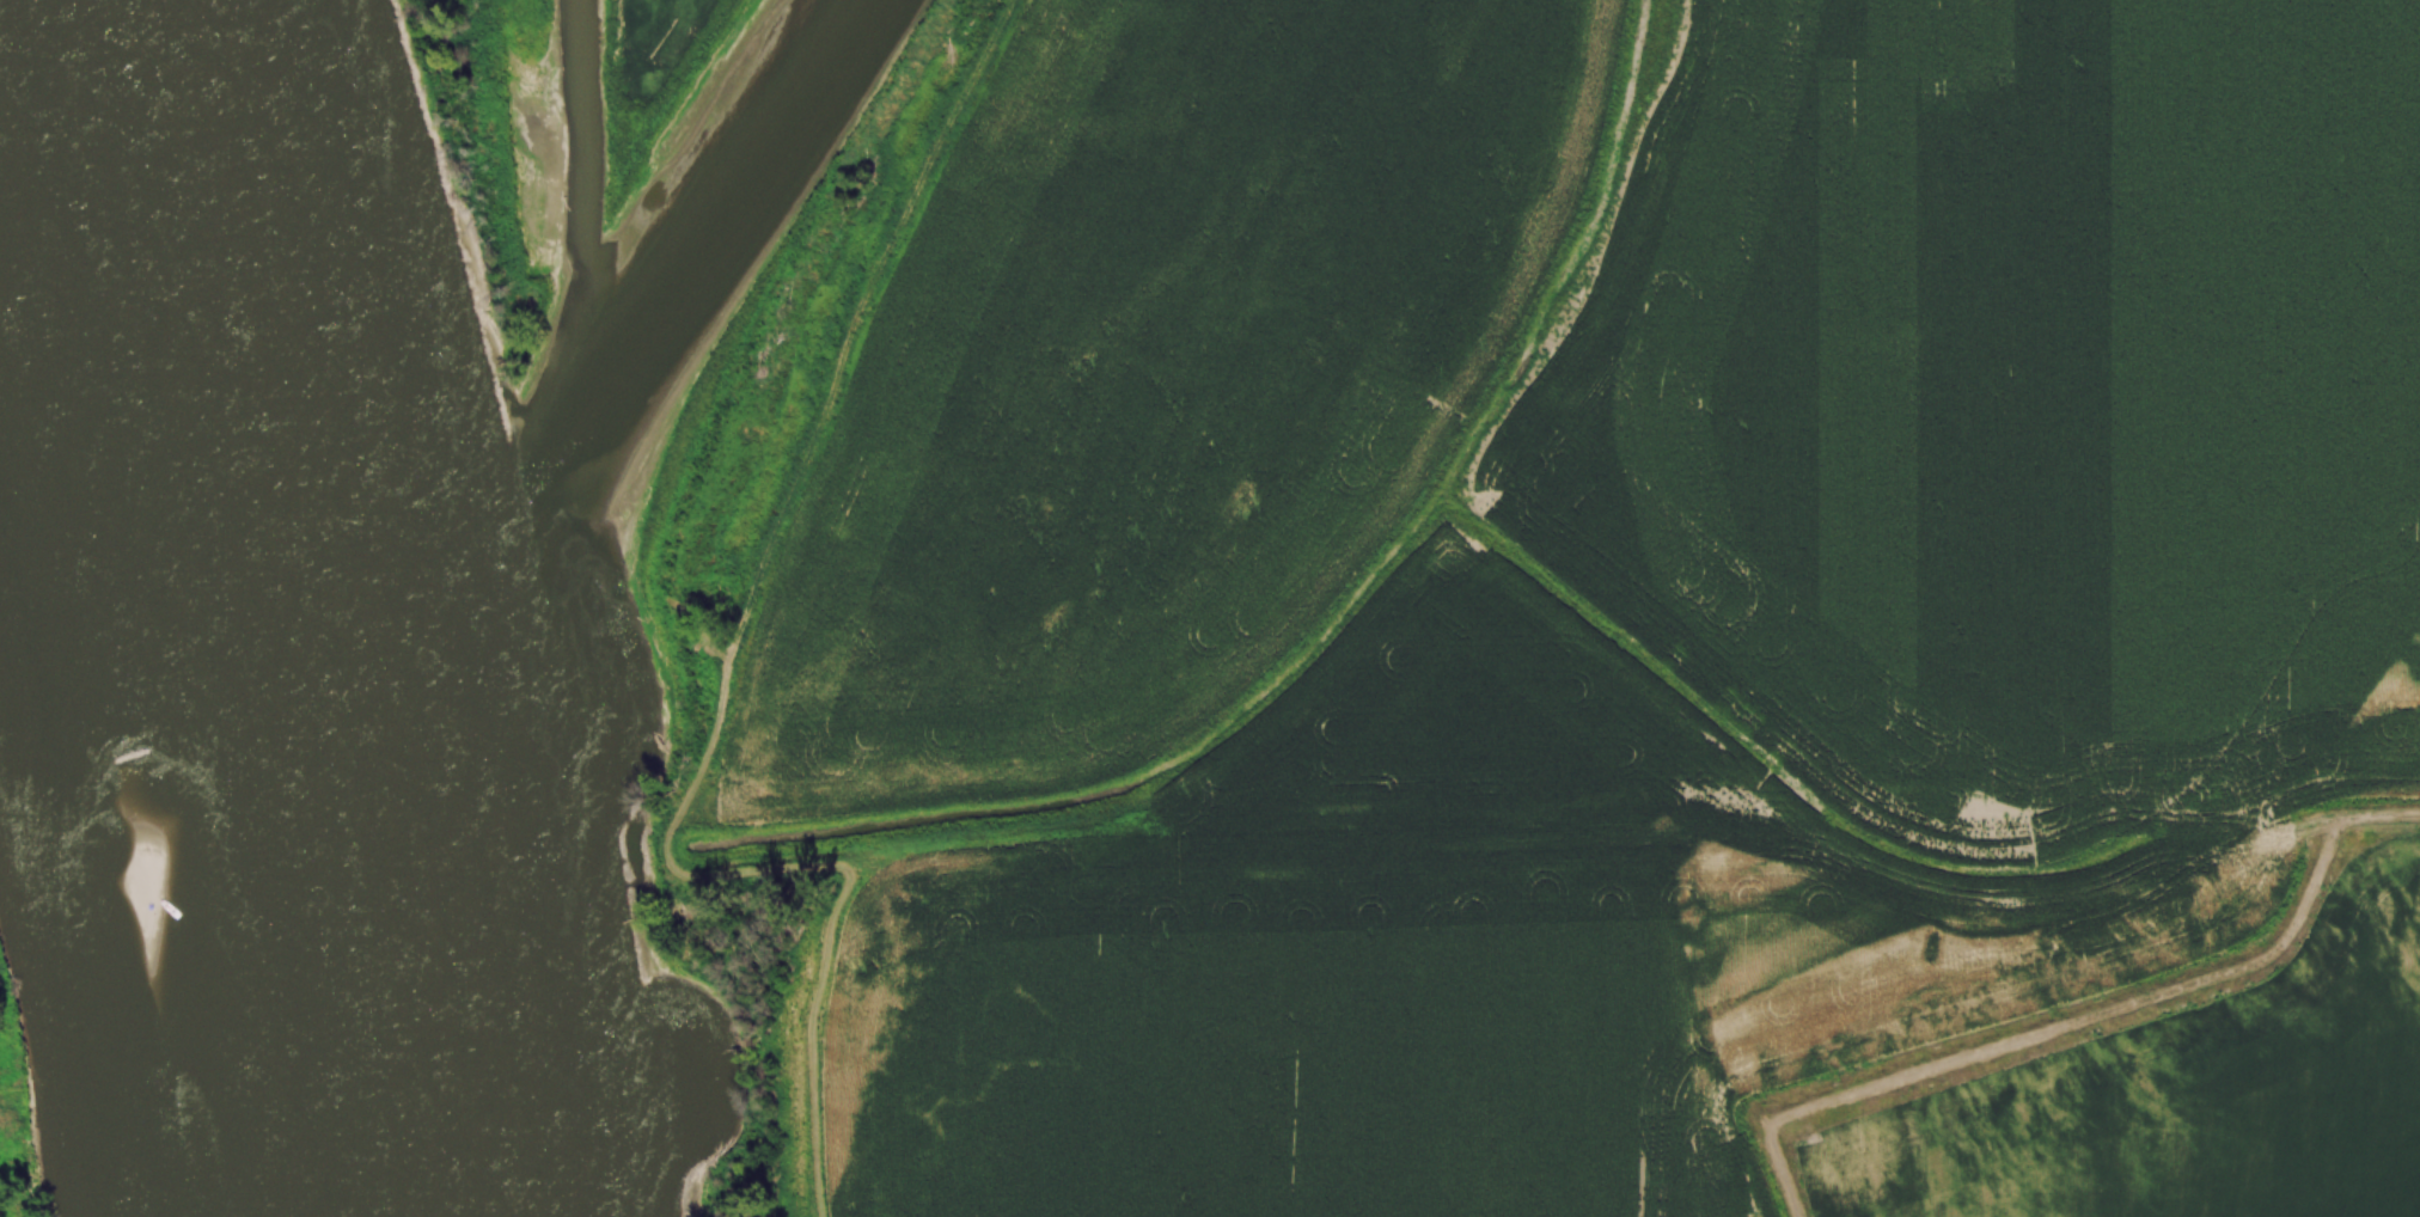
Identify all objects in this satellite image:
river: (593, 478)
river: (230, 608)
road: (2083, 1020)

